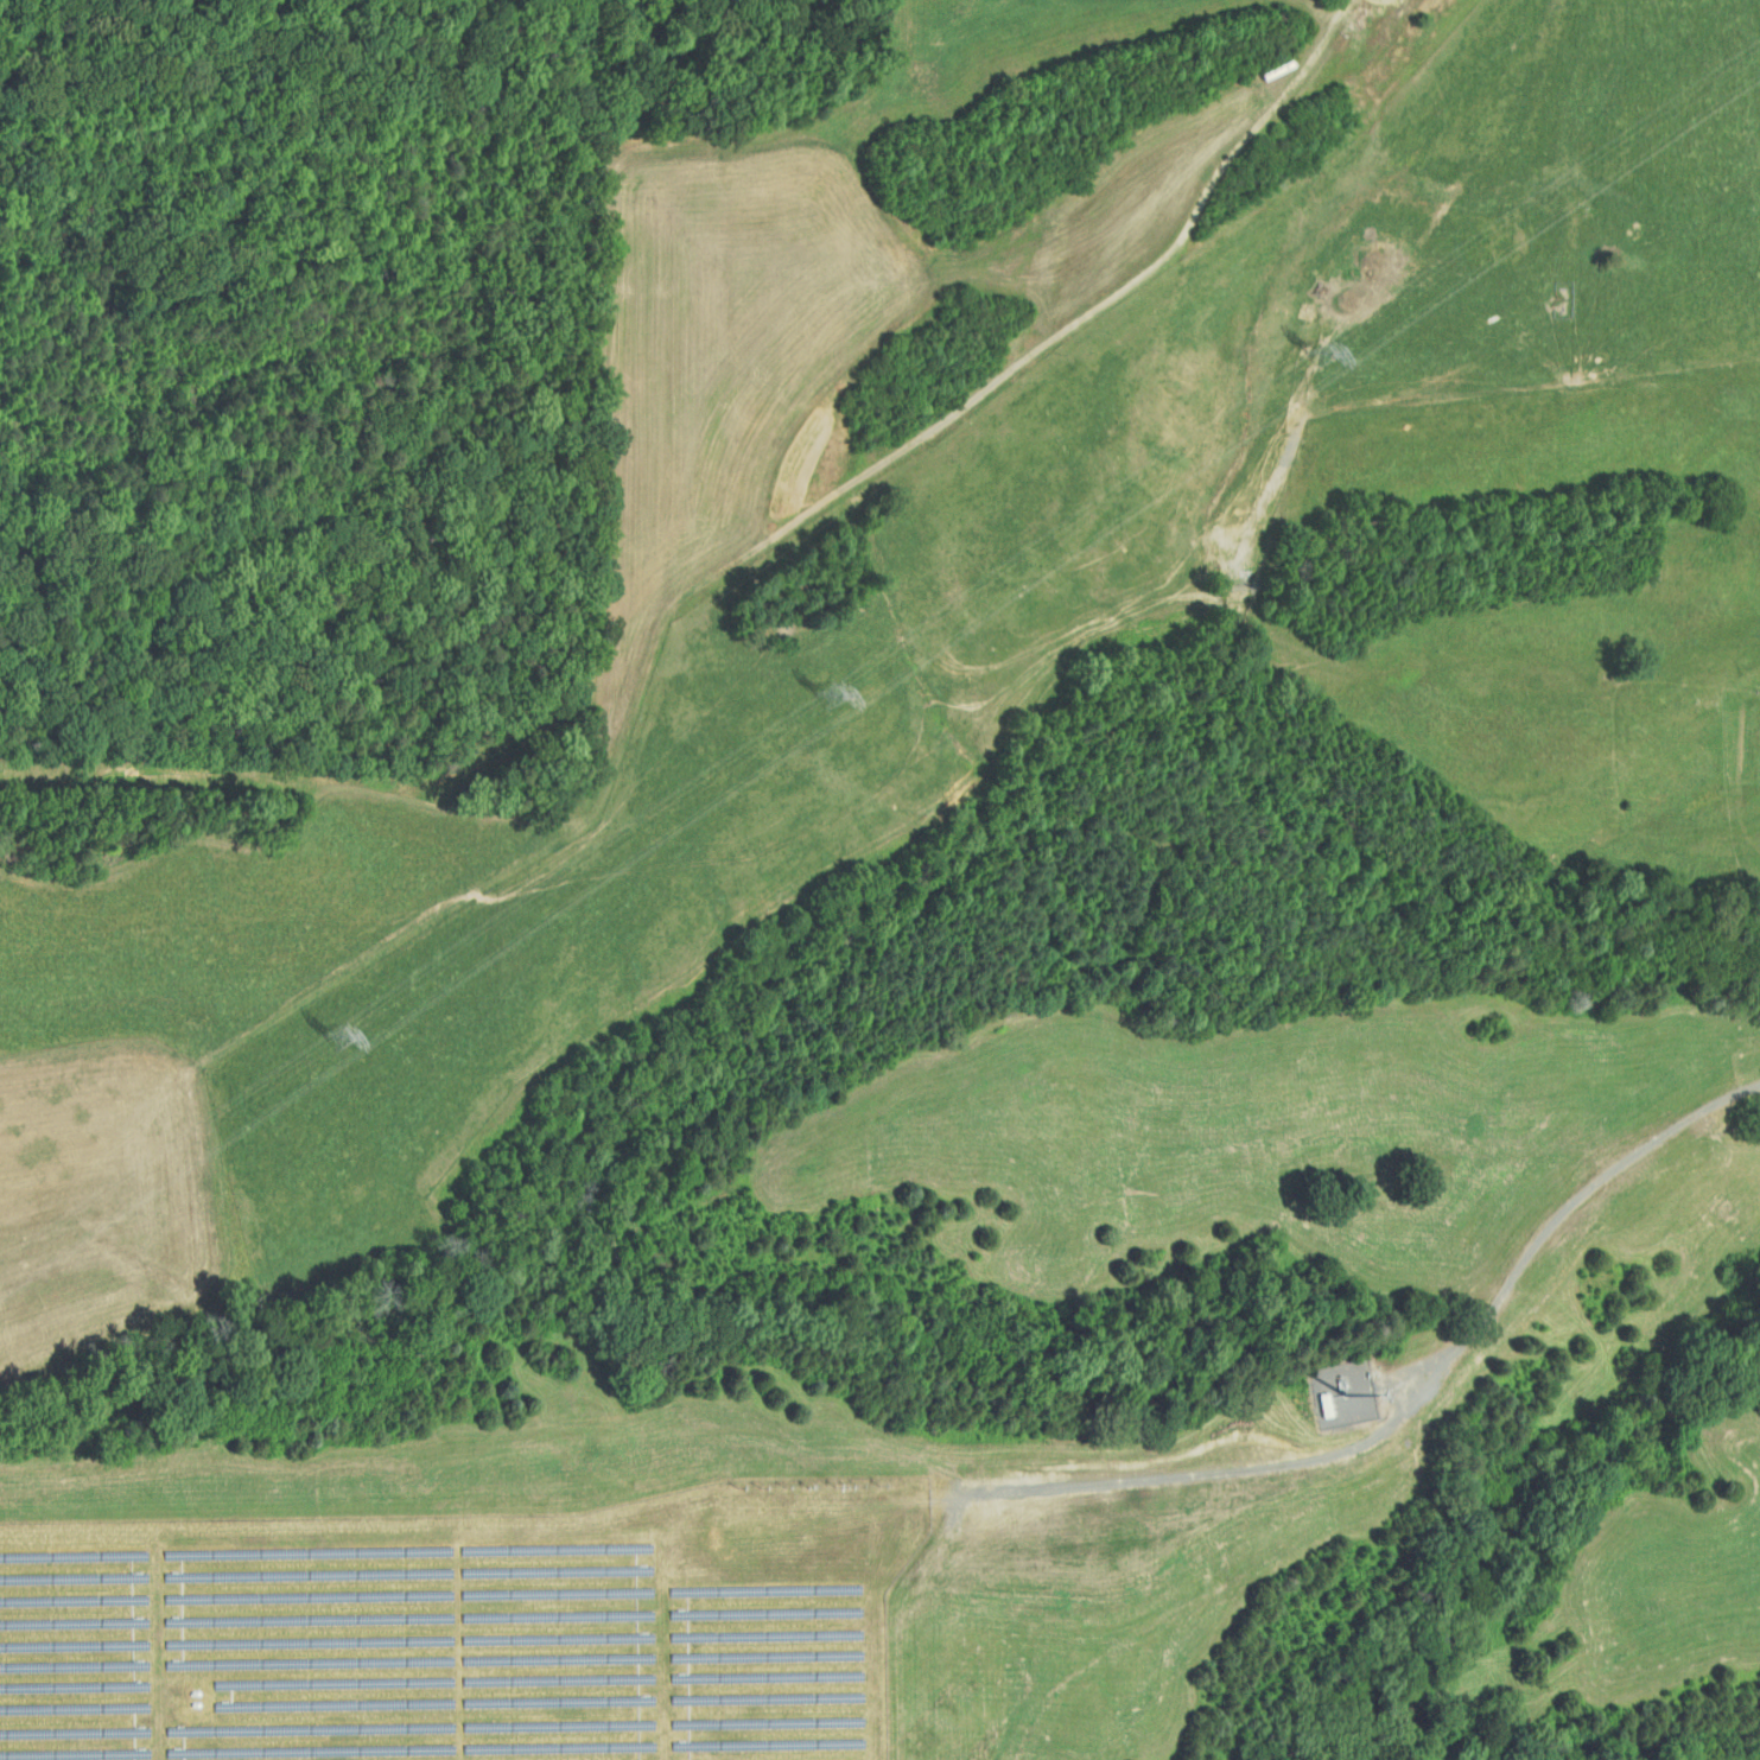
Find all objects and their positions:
road: (1112, 294)
power tower: (1324, 357)
power tower: (835, 697)
power tower: (343, 1037)
road: (1743, 1092)

